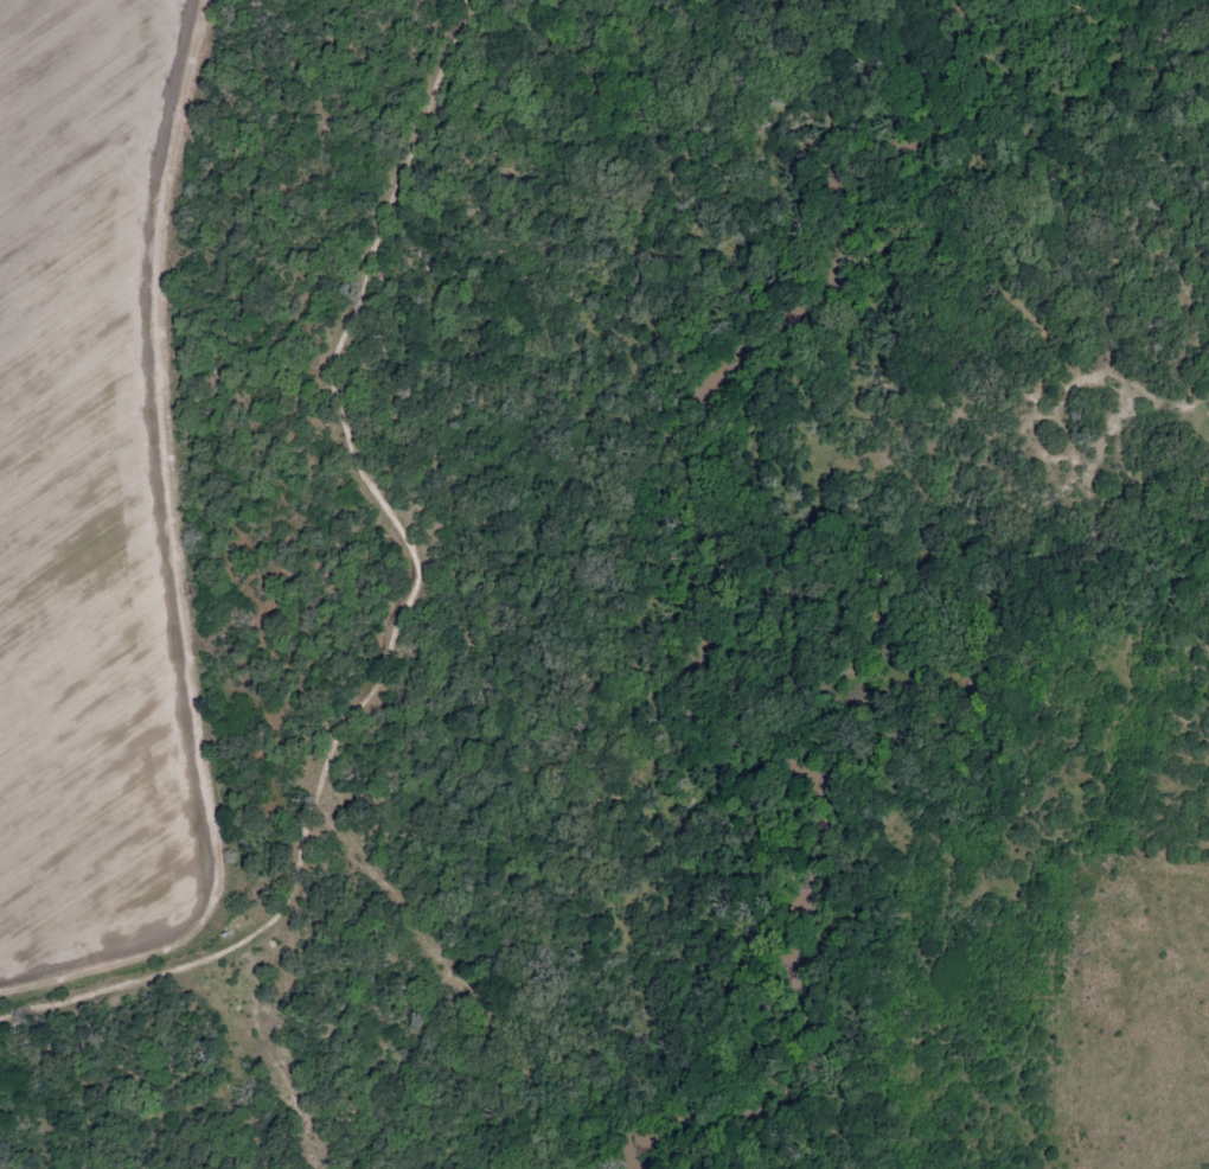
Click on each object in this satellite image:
river: (733, 570)

